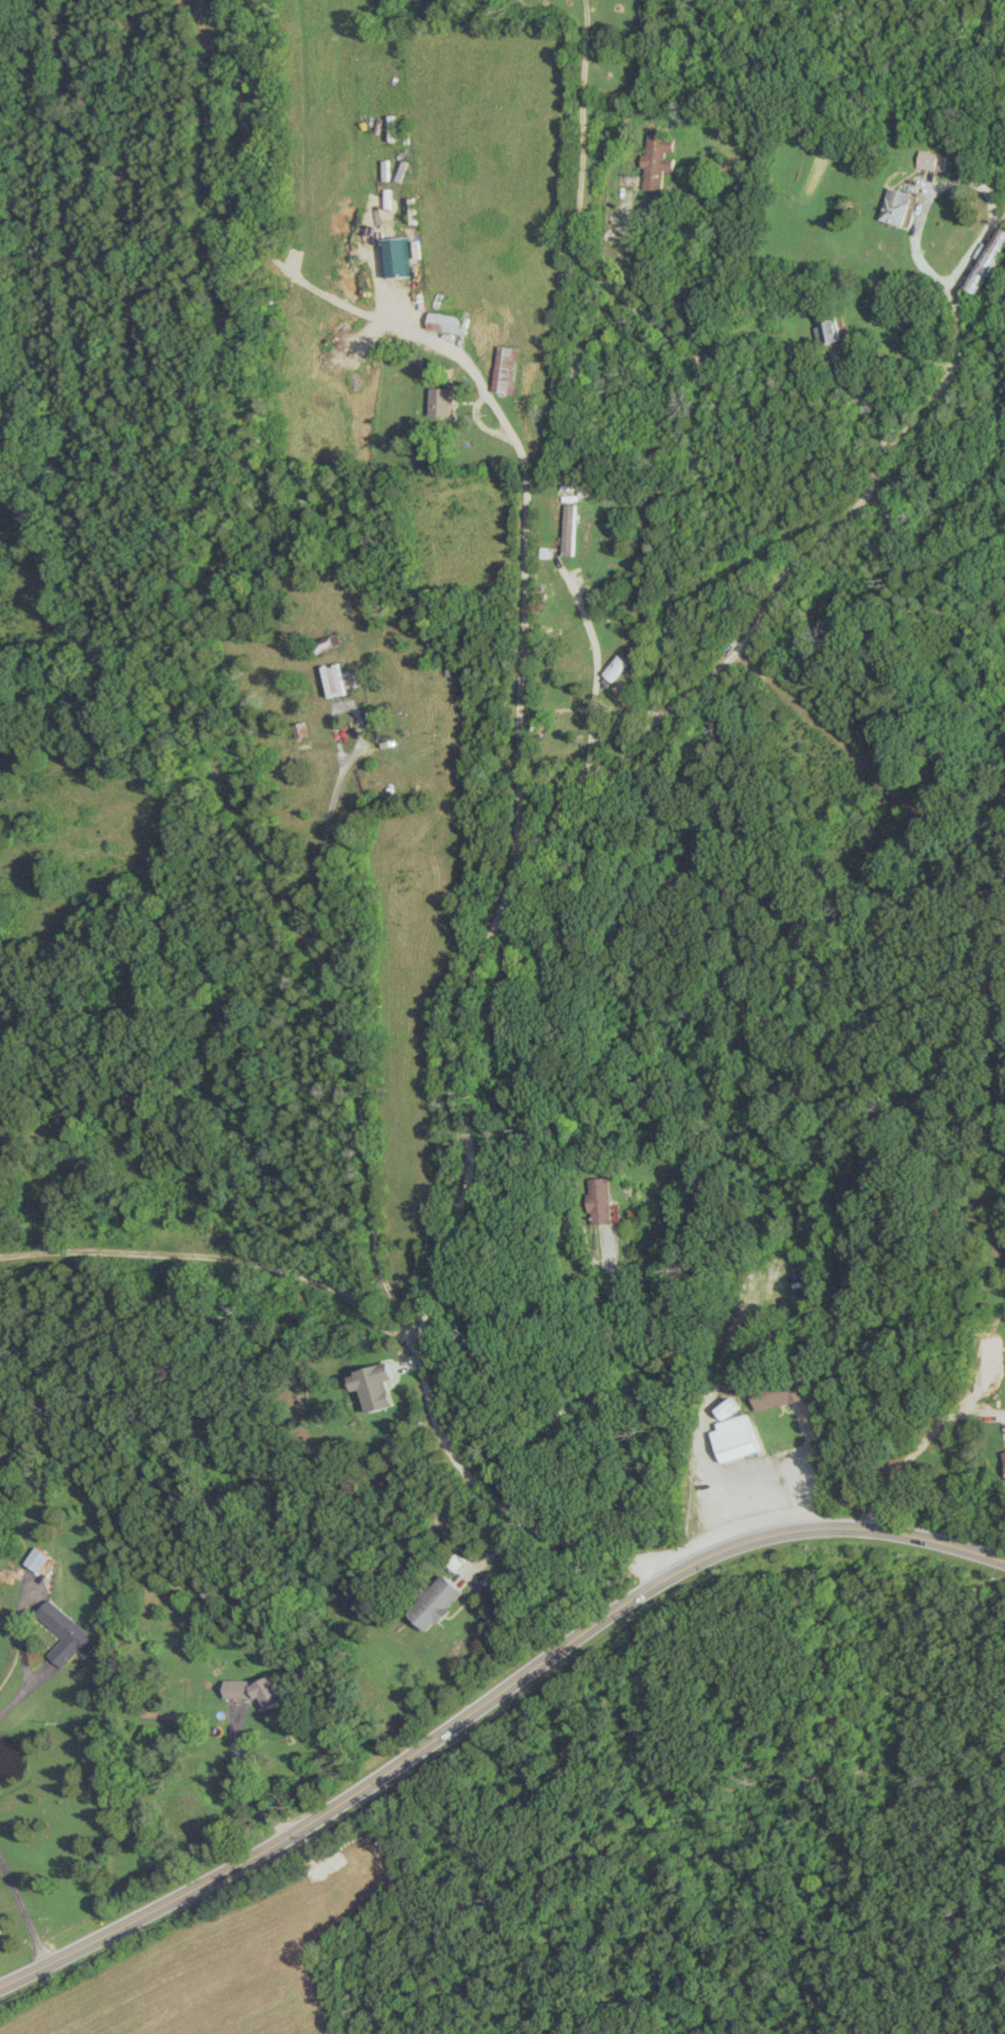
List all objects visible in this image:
road: (581, 154)
building: (657, 159)
building: (933, 160)
building: (899, 205)
building: (398, 257)
building: (987, 259)
building: (448, 322)
building: (829, 330)
building: (506, 369)
building: (441, 402)
road: (865, 408)
road: (922, 417)
road: (696, 448)
building: (569, 529)
road: (522, 567)
building: (614, 667)
building: (353, 678)
road: (596, 679)
road: (324, 824)
road: (323, 981)
road: (603, 1120)
road: (464, 1181)
building: (600, 1200)
building: (373, 1386)
building: (779, 1395)
building: (730, 1408)
building: (737, 1438)
road: (920, 1448)
road: (709, 1501)
building: (36, 1559)
building: (436, 1603)
building: (63, 1634)
building: (256, 1691)
road: (21, 1693)
road: (488, 1699)
road: (243, 1778)
road: (21, 1910)
building: (0, 1932)

